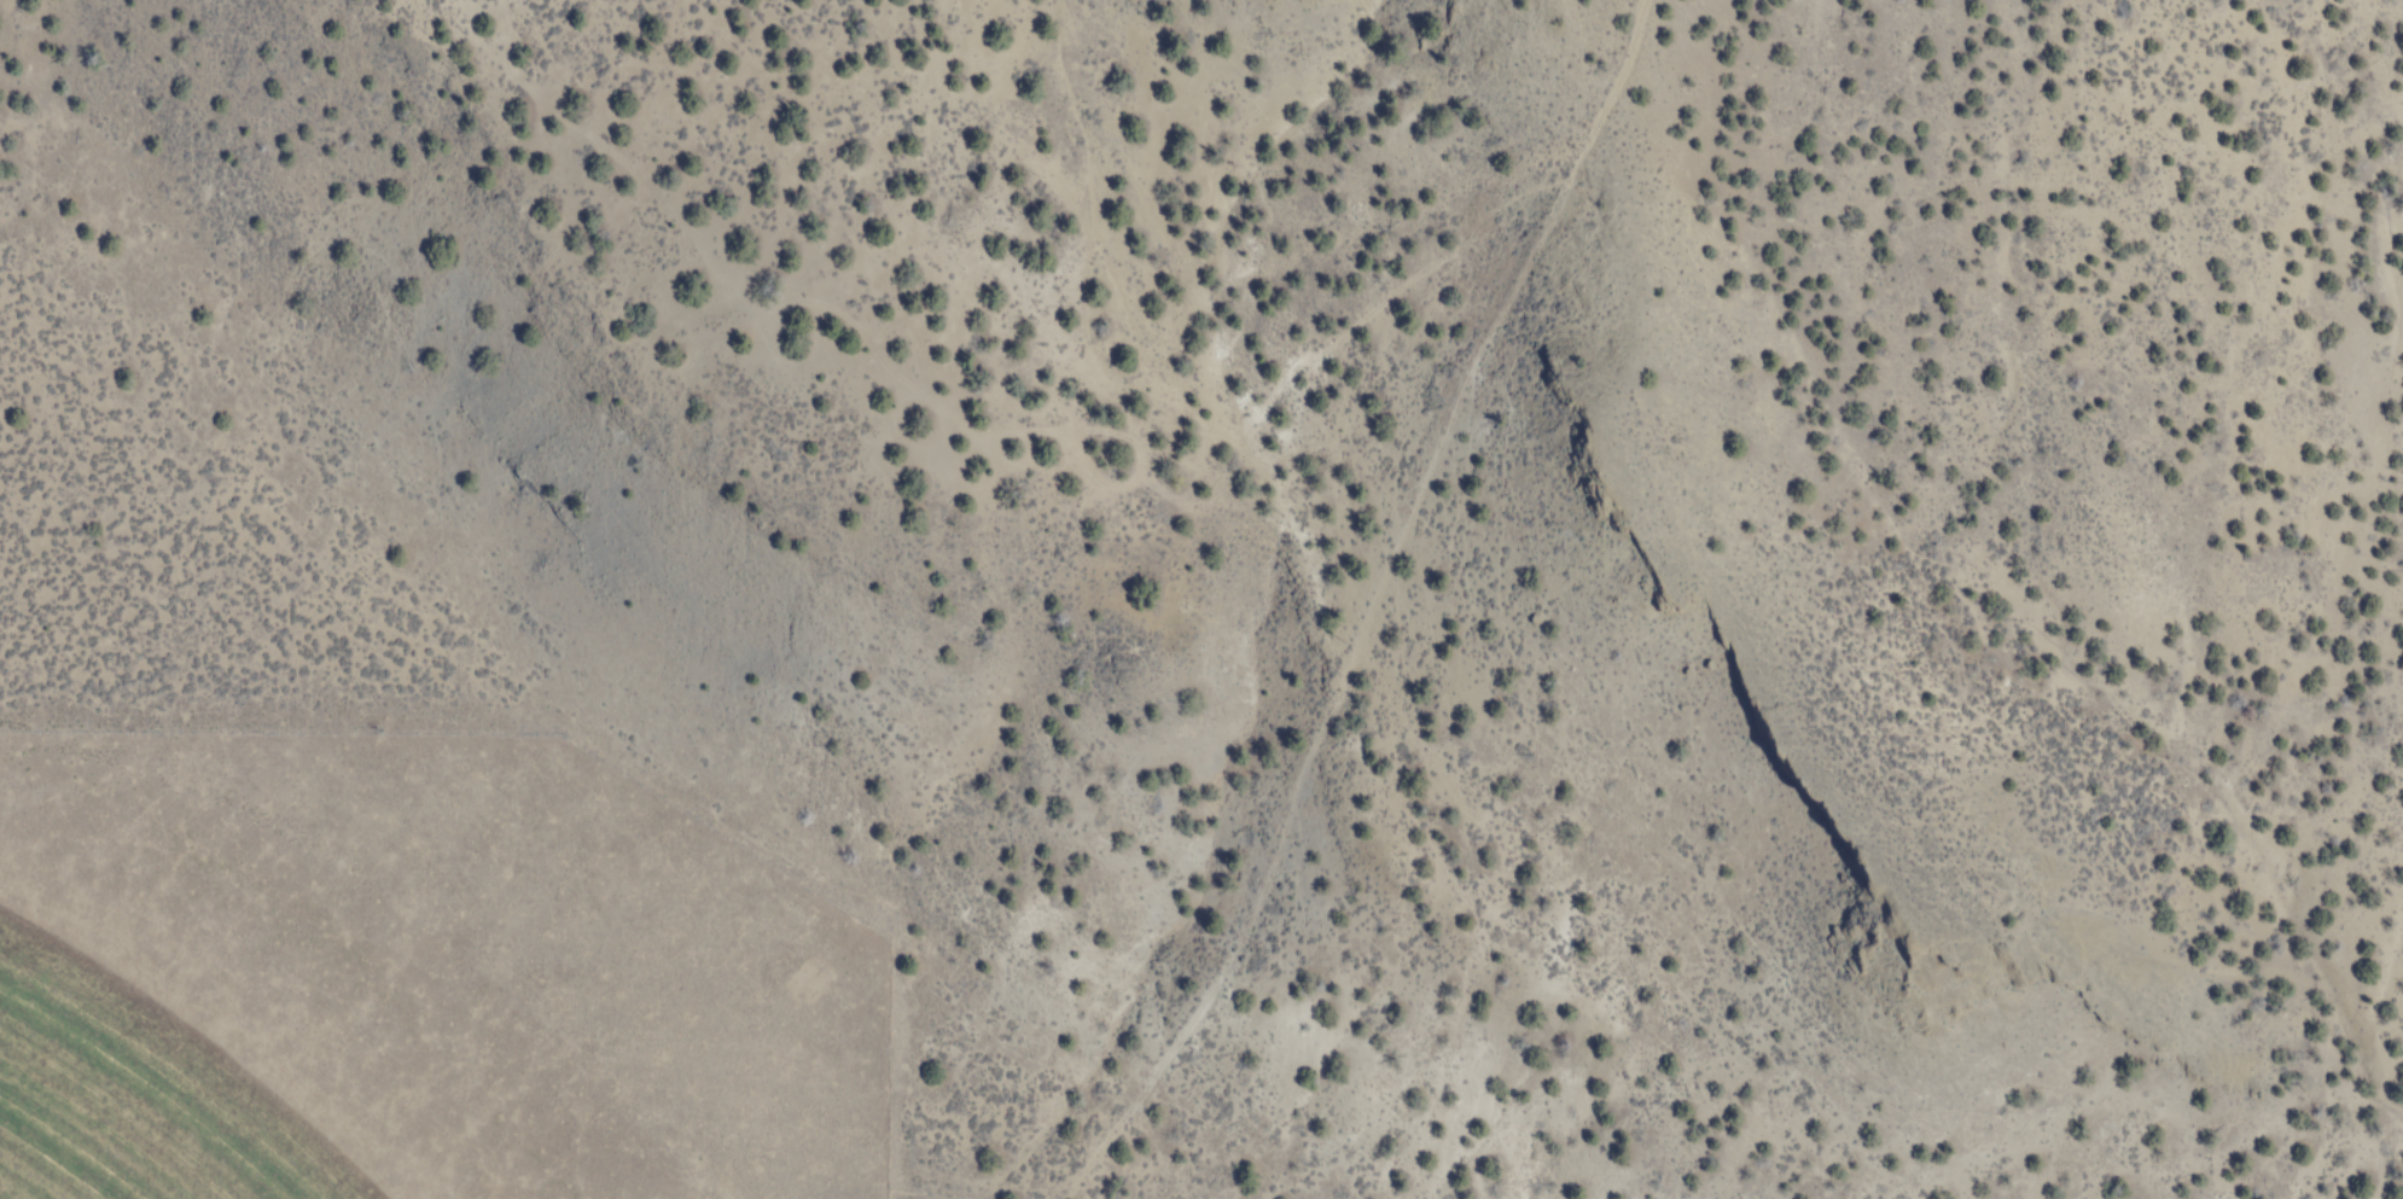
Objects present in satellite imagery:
road: (1348, 599)
crop: (135, 1098)

